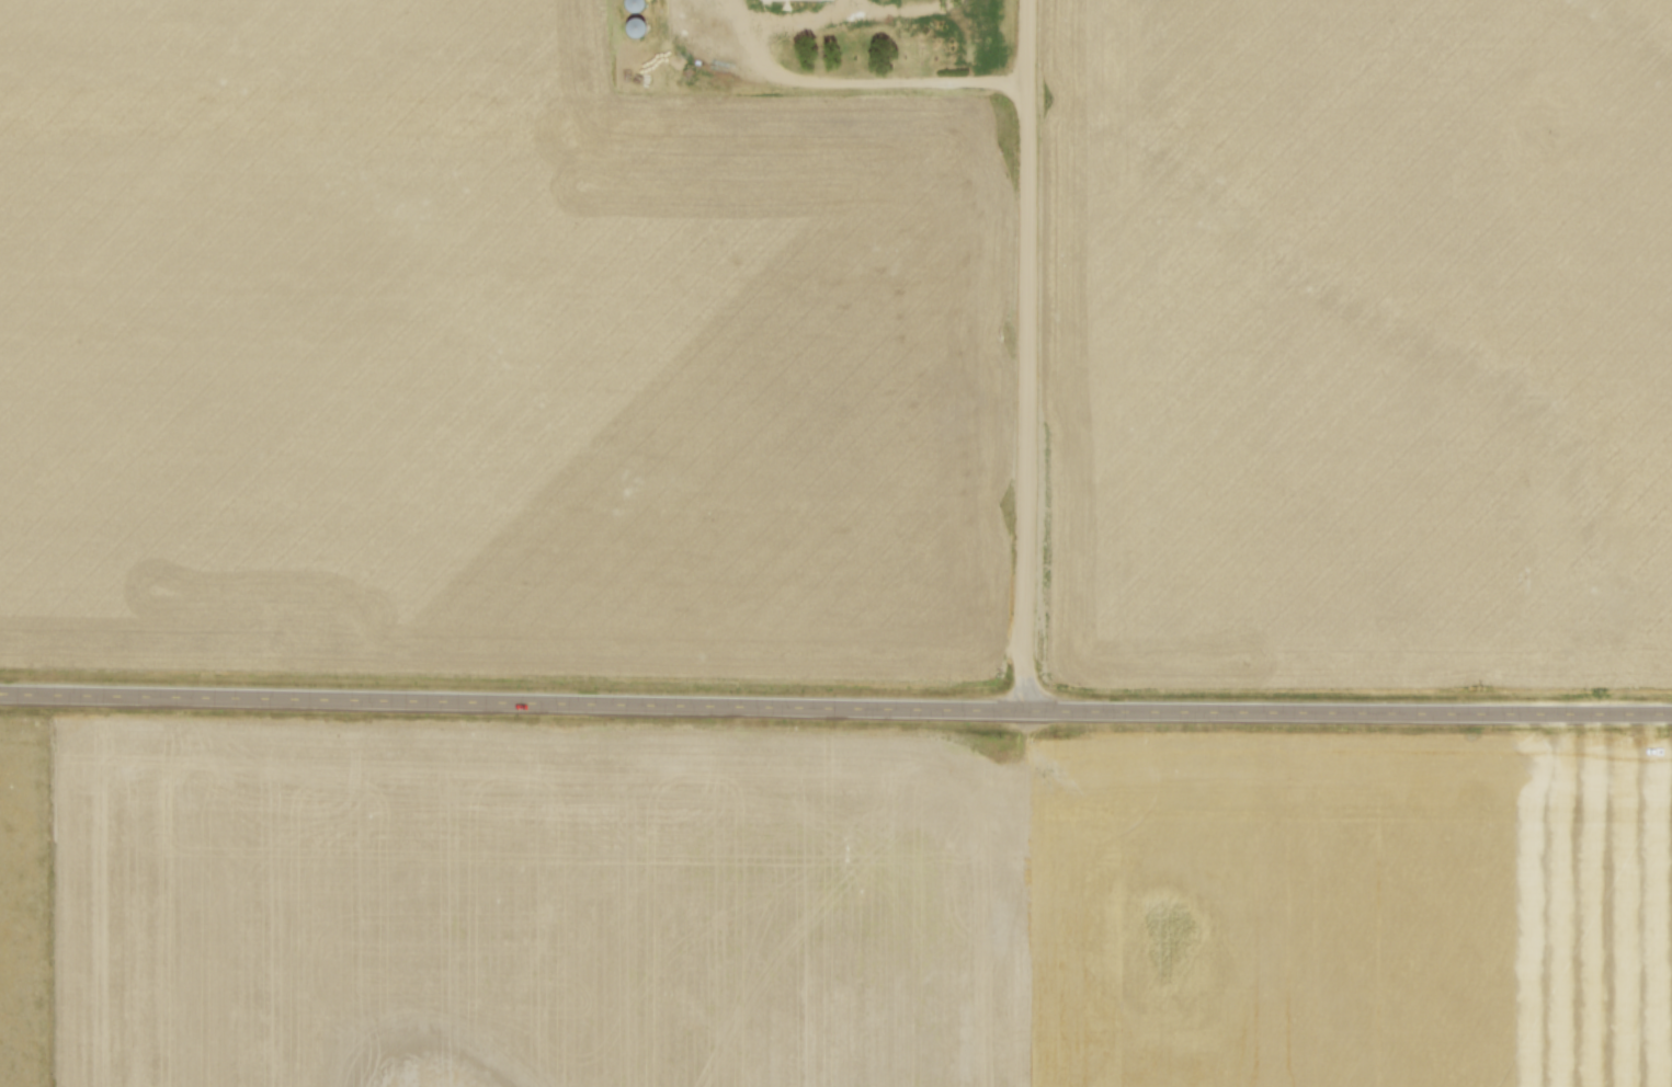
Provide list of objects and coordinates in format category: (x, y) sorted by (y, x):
building: (790, 1)
building: (632, 4)
silo: (632, 4)
building: (630, 27)
silo: (630, 27)
road: (771, 81)
crop: (1362, 344)
road: (1031, 355)
crop: (489, 357)
road: (835, 707)
crop: (861, 905)

